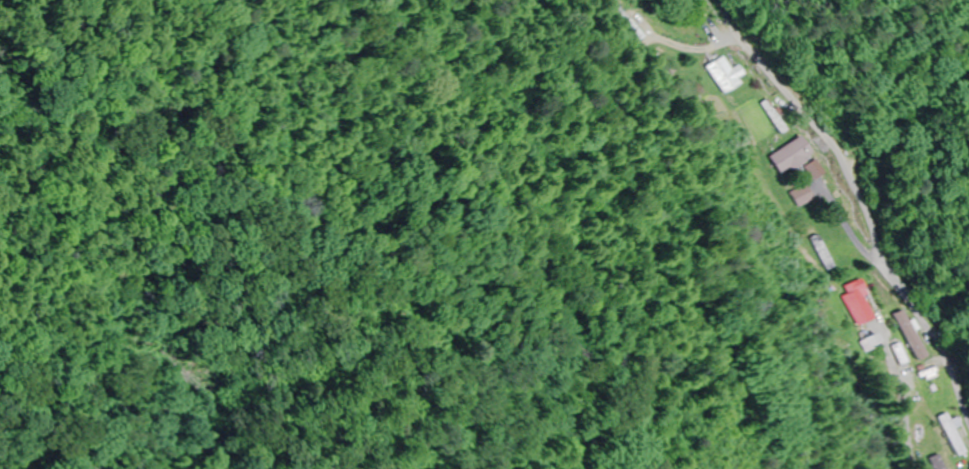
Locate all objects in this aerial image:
building: (727, 75)
building: (775, 117)
building: (794, 155)
building: (806, 196)
building: (863, 302)
building: (955, 435)

